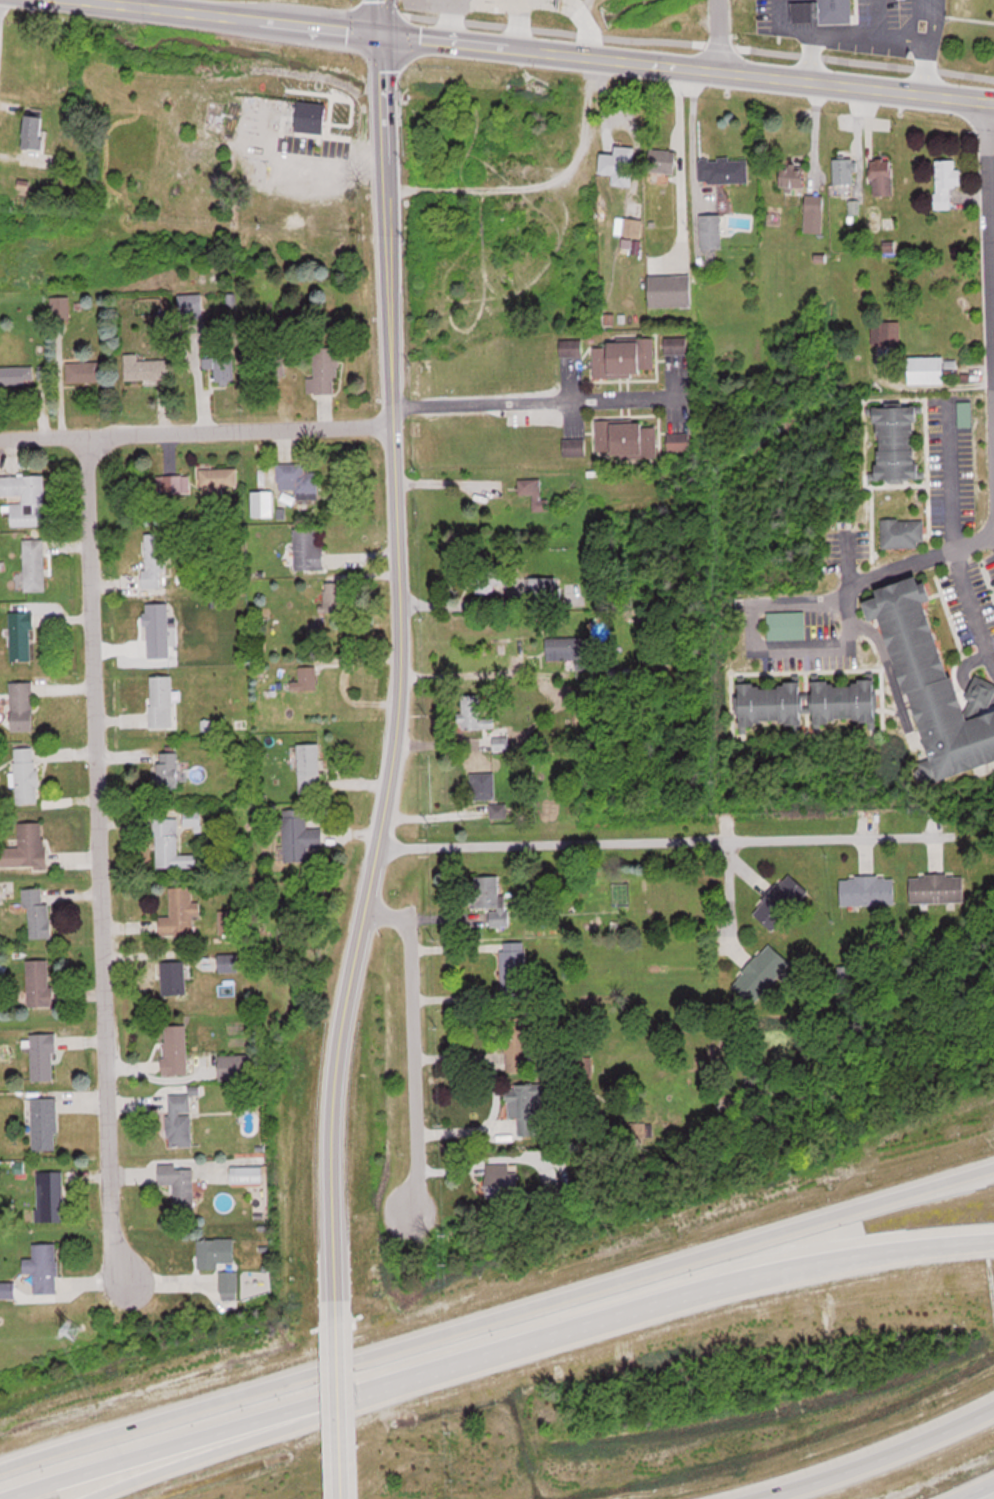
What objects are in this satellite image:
road: (111, 1)
building: (824, 12)
road: (710, 35)
park: (967, 40)
road: (544, 51)
building: (311, 117)
building: (34, 133)
road: (676, 149)
road: (689, 152)
building: (45, 160)
building: (662, 161)
building: (620, 165)
building: (728, 171)
building: (844, 171)
building: (793, 176)
building: (884, 177)
building: (946, 182)
building: (815, 213)
building: (629, 227)
building: (712, 231)
road: (988, 247)
building: (671, 290)
building: (191, 305)
building: (59, 307)
building: (886, 330)
building: (676, 343)
building: (571, 346)
building: (625, 357)
building: (146, 367)
building: (221, 367)
building: (84, 371)
building: (325, 371)
building: (16, 375)
road: (192, 429)
building: (627, 436)
building: (679, 440)
building: (899, 441)
road: (573, 444)
building: (574, 445)
road: (386, 454)
building: (218, 477)
building: (298, 478)
road: (948, 482)
building: (173, 483)
building: (534, 492)
building: (25, 498)
building: (262, 502)
building: (903, 531)
building: (309, 548)
building: (154, 559)
building: (34, 564)
road: (846, 569)
building: (490, 576)
building: (544, 587)
road: (966, 588)
building: (333, 596)
road: (769, 606)
building: (786, 624)
building: (21, 634)
building: (567, 647)
road: (884, 664)
building: (305, 677)
building: (936, 681)
building: (161, 699)
building: (809, 701)
building: (22, 704)
building: (474, 711)
building: (500, 742)
building: (309, 766)
building: (167, 768)
building: (25, 773)
building: (483, 784)
building: (298, 834)
road: (654, 840)
building: (169, 844)
building: (26, 846)
road: (933, 852)
road: (99, 859)
building: (937, 888)
building: (867, 890)
building: (489, 898)
building: (780, 901)
building: (179, 911)
building: (37, 912)
building: (228, 921)
building: (513, 970)
building: (761, 972)
building: (174, 977)
building: (39, 982)
road: (414, 1042)
building: (517, 1044)
building: (175, 1049)
building: (43, 1057)
building: (236, 1066)
building: (527, 1106)
road: (335, 1108)
building: (179, 1119)
building: (44, 1123)
building: (246, 1174)
building: (500, 1180)
building: (179, 1185)
building: (50, 1195)
building: (215, 1252)
building: (43, 1267)
building: (228, 1285)
building: (7, 1290)
road: (593, 1319)
power tower: (70, 1325)
road: (496, 1327)
road: (339, 1406)
road: (880, 1458)
road: (113, 1469)
road: (145, 1470)
road: (976, 1491)

